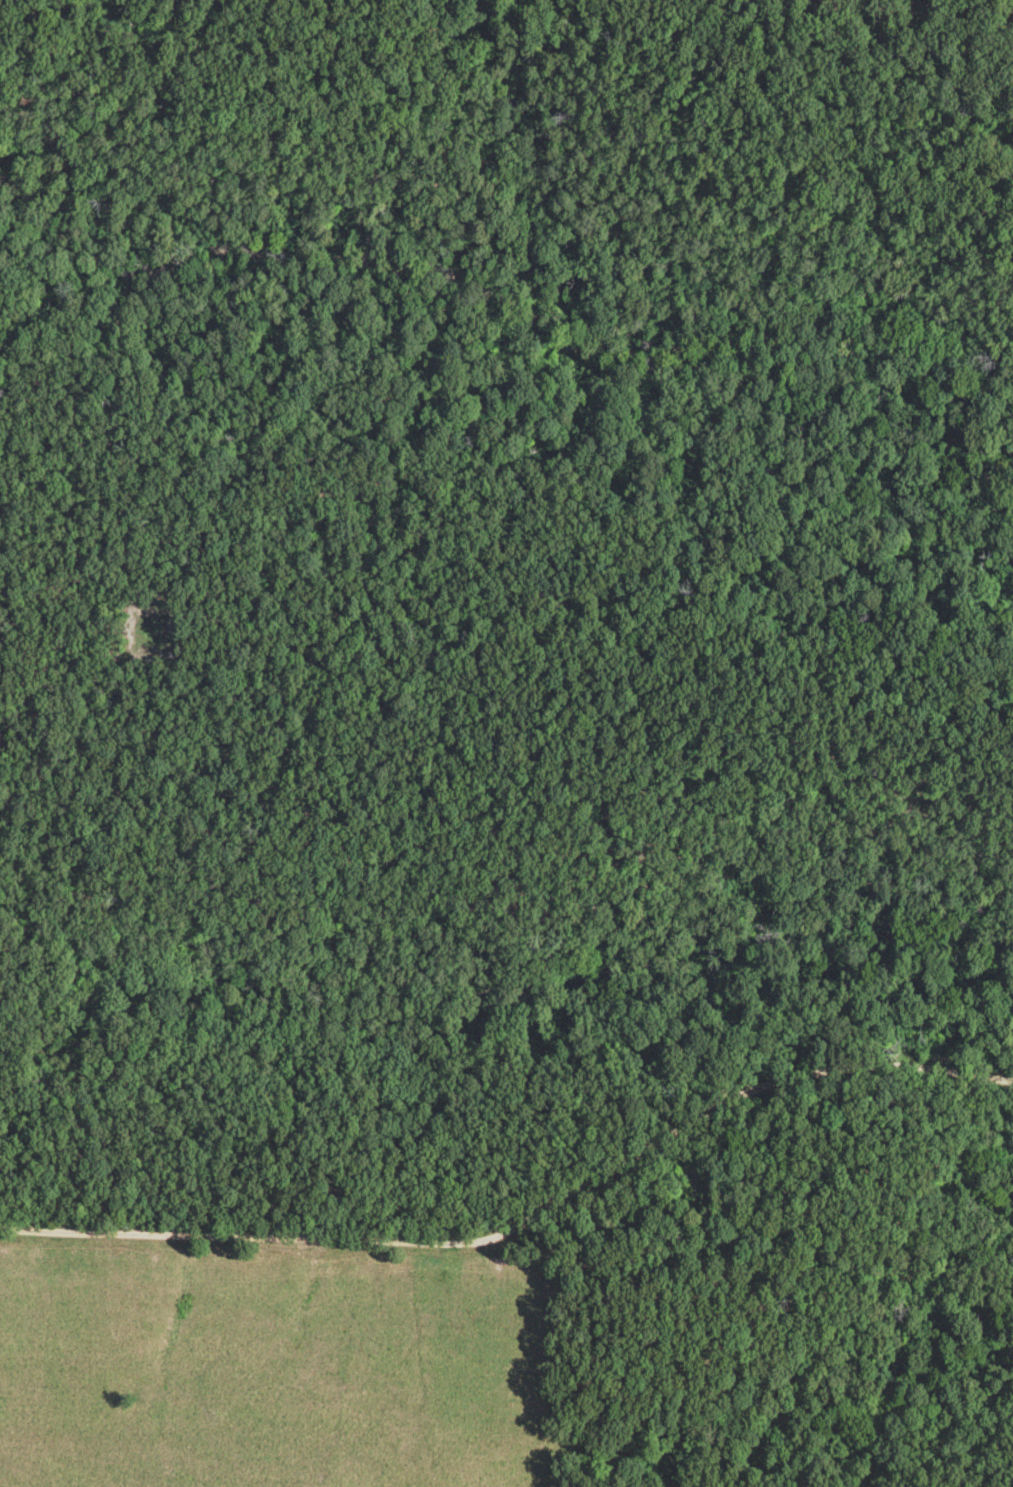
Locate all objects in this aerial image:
road: (525, 1221)

